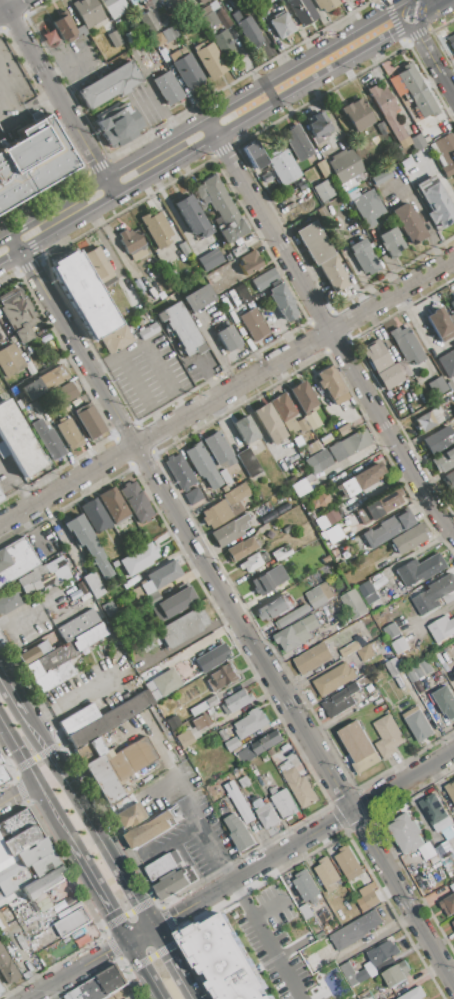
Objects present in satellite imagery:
building: (203, 1)
building: (134, 2)
road: (419, 2)
building: (155, 3)
building: (328, 4)
building: (113, 7)
road: (15, 8)
building: (302, 11)
building: (87, 12)
building: (207, 17)
building: (149, 21)
building: (281, 26)
building: (64, 28)
building: (249, 32)
building: (165, 33)
building: (49, 39)
building: (114, 39)
building: (159, 39)
building: (452, 42)
building: (226, 44)
road: (428, 52)
building: (210, 61)
building: (186, 68)
building: (109, 85)
building: (167, 88)
building: (417, 91)
road: (57, 92)
building: (386, 111)
building: (357, 115)
building: (118, 125)
road: (213, 125)
building: (318, 126)
building: (412, 129)
building: (297, 142)
building: (416, 142)
building: (444, 153)
building: (254, 155)
building: (32, 161)
building: (283, 166)
building: (323, 168)
building: (346, 168)
building: (323, 190)
building: (435, 202)
building: (367, 205)
building: (222, 209)
building: (191, 217)
road: (424, 218)
building: (408, 223)
building: (156, 229)
building: (392, 241)
building: (132, 243)
building: (183, 249)
building: (321, 257)
building: (363, 258)
building: (210, 259)
building: (249, 263)
road: (351, 263)
building: (97, 265)
building: (264, 279)
building: (83, 294)
building: (241, 294)
building: (198, 298)
building: (281, 302)
building: (452, 304)
building: (18, 314)
building: (439, 324)
building: (253, 325)
road: (279, 327)
building: (181, 328)
road: (327, 330)
building: (148, 331)
road: (420, 332)
building: (227, 339)
building: (116, 340)
building: (406, 345)
road: (130, 352)
building: (10, 361)
building: (447, 363)
building: (381, 364)
road: (209, 374)
building: (55, 376)
building: (331, 383)
building: (450, 385)
building: (437, 386)
road: (226, 388)
building: (31, 391)
building: (66, 392)
building: (303, 397)
building: (20, 404)
building: (288, 416)
building: (429, 419)
building: (88, 420)
building: (268, 424)
building: (244, 429)
building: (344, 430)
building: (68, 433)
building: (438, 438)
building: (47, 440)
building: (325, 440)
building: (17, 441)
building: (312, 447)
building: (219, 449)
building: (338, 451)
building: (443, 461)
building: (249, 463)
building: (202, 466)
building: (452, 476)
building: (225, 477)
building: (182, 478)
building: (362, 478)
building: (300, 488)
building: (453, 492)
building: (0, 497)
building: (0, 500)
building: (136, 502)
building: (113, 506)
building: (381, 506)
building: (225, 507)
building: (95, 516)
building: (331, 517)
building: (262, 520)
building: (387, 528)
building: (287, 529)
building: (230, 531)
building: (409, 538)
building: (88, 544)
building: (241, 549)
building: (148, 552)
building: (282, 553)
building: (15, 560)
building: (325, 560)
building: (255, 561)
building: (119, 568)
building: (419, 570)
building: (42, 576)
building: (156, 579)
building: (269, 580)
building: (93, 585)
building: (368, 592)
building: (433, 593)
building: (320, 594)
building: (151, 598)
building: (9, 602)
building: (354, 603)
building: (174, 604)
building: (272, 608)
road: (236, 611)
road: (20, 615)
building: (292, 616)
building: (78, 625)
building: (183, 627)
building: (442, 628)
building: (391, 631)
building: (296, 632)
road: (183, 642)
building: (399, 646)
building: (351, 647)
building: (35, 652)
building: (366, 653)
building: (212, 657)
building: (62, 659)
building: (309, 659)
building: (394, 667)
building: (418, 669)
building: (222, 677)
building: (334, 679)
building: (162, 685)
road: (11, 695)
road: (75, 698)
building: (340, 700)
building: (237, 701)
building: (446, 702)
building: (204, 705)
building: (100, 719)
building: (173, 722)
building: (200, 722)
building: (251, 723)
building: (417, 724)
building: (225, 733)
building: (387, 735)
building: (187, 737)
building: (232, 744)
building: (359, 746)
building: (258, 749)
road: (35, 758)
building: (0, 763)
building: (118, 767)
building: (2, 776)
road: (36, 781)
building: (244, 782)
building: (298, 784)
road: (187, 788)
building: (450, 789)
road: (18, 793)
building: (239, 802)
building: (284, 802)
building: (435, 812)
building: (266, 814)
building: (129, 815)
road: (87, 821)
building: (153, 828)
building: (240, 831)
building: (406, 833)
building: (17, 834)
road: (174, 838)
building: (446, 843)
building: (426, 851)
building: (32, 852)
building: (348, 863)
building: (162, 864)
building: (9, 870)
building: (28, 873)
building: (326, 873)
road: (240, 876)
building: (175, 882)
building: (43, 883)
building: (307, 886)
building: (452, 886)
road: (98, 892)
building: (371, 900)
building: (448, 904)
traffic signals: (110, 911)
traffic signals: (175, 914)
building: (72, 922)
building: (453, 922)
building: (354, 930)
road: (265, 940)
building: (82, 941)
traffic signals: (103, 953)
building: (382, 953)
traffic signals: (170, 957)
building: (222, 959)
building: (313, 961)
road: (173, 962)
building: (7, 969)
road: (144, 969)
building: (397, 973)
building: (362, 974)
building: (99, 985)
building: (0, 990)
building: (414, 994)
building: (365, 995)

